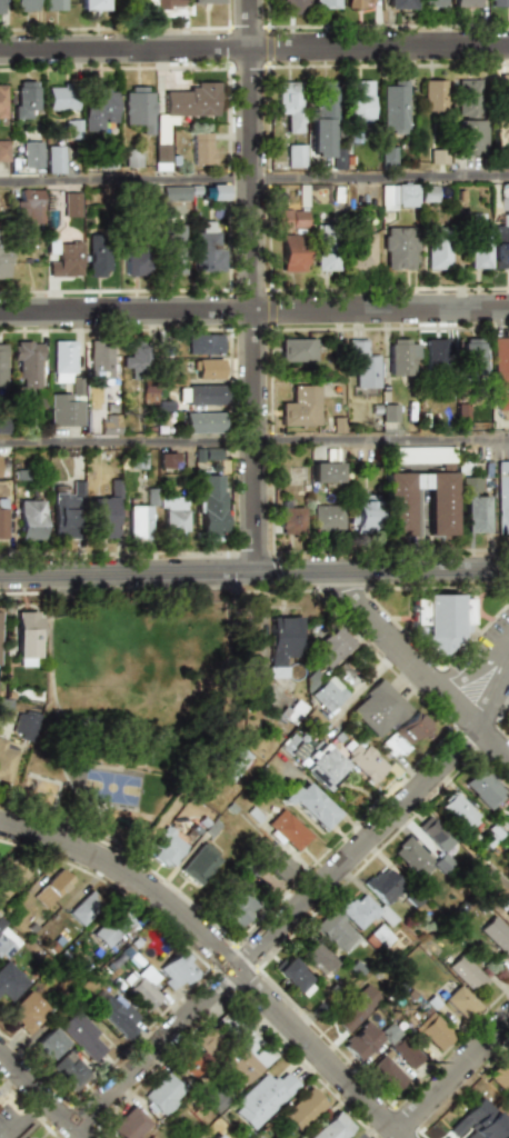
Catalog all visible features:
building: (206, 1)
building: (163, 3)
building: (358, 3)
building: (432, 3)
building: (467, 3)
building: (499, 3)
building: (325, 4)
building: (397, 4)
building: (24, 6)
building: (54, 6)
building: (92, 6)
building: (0, 7)
building: (290, 7)
road: (255, 48)
road: (252, 89)
building: (432, 96)
building: (502, 96)
building: (24, 98)
building: (60, 98)
building: (468, 98)
building: (190, 99)
building: (323, 99)
building: (358, 101)
building: (1, 102)
building: (289, 104)
building: (393, 107)
building: (98, 108)
building: (137, 108)
building: (73, 129)
building: (468, 137)
building: (319, 138)
building: (201, 148)
building: (3, 150)
building: (507, 153)
building: (31, 154)
building: (296, 156)
building: (162, 157)
building: (387, 157)
building: (437, 157)
building: (132, 158)
building: (54, 159)
building: (337, 159)
road: (381, 177)
road: (127, 180)
building: (218, 192)
building: (174, 193)
building: (427, 193)
building: (397, 196)
building: (71, 204)
building: (27, 206)
building: (290, 219)
building: (477, 244)
building: (499, 247)
building: (398, 248)
building: (172, 249)
building: (207, 249)
building: (325, 250)
building: (435, 250)
building: (360, 251)
building: (292, 252)
building: (98, 256)
building: (64, 259)
building: (132, 259)
building: (3, 261)
road: (255, 310)
building: (203, 343)
building: (297, 350)
building: (435, 353)
building: (471, 356)
building: (400, 357)
building: (134, 359)
building: (500, 359)
building: (63, 360)
building: (100, 361)
building: (29, 363)
building: (363, 367)
building: (2, 368)
building: (207, 369)
road: (255, 375)
building: (148, 392)
building: (201, 395)
building: (502, 401)
building: (300, 407)
building: (64, 411)
building: (389, 416)
building: (203, 422)
building: (109, 425)
building: (2, 427)
road: (253, 441)
building: (207, 453)
building: (167, 460)
building: (326, 472)
building: (502, 497)
building: (437, 501)
building: (398, 503)
building: (211, 507)
building: (472, 507)
building: (64, 516)
building: (172, 516)
building: (363, 516)
building: (328, 517)
building: (102, 518)
building: (2, 519)
building: (291, 519)
building: (30, 520)
building: (138, 521)
road: (419, 531)
road: (253, 571)
building: (442, 619)
building: (24, 637)
building: (283, 643)
building: (331, 647)
road: (420, 667)
road: (479, 670)
building: (328, 695)
building: (4, 707)
park: (139, 708)
building: (379, 708)
building: (295, 712)
building: (26, 725)
building: (406, 735)
building: (7, 760)
building: (316, 761)
building: (366, 761)
building: (230, 762)
building: (482, 789)
building: (310, 805)
building: (459, 812)
building: (289, 829)
building: (435, 833)
building: (168, 848)
building: (411, 857)
building: (277, 861)
building: (199, 864)
building: (11, 876)
building: (491, 879)
building: (383, 885)
building: (51, 888)
building: (236, 904)
road: (303, 906)
building: (86, 907)
building: (363, 911)
building: (112, 927)
building: (336, 930)
building: (497, 935)
building: (380, 937)
building: (6, 942)
road: (221, 952)
building: (316, 956)
building: (177, 970)
building: (468, 974)
building: (295, 977)
building: (10, 980)
building: (144, 988)
building: (462, 1002)
building: (358, 1008)
building: (28, 1011)
building: (118, 1016)
building: (435, 1031)
building: (82, 1035)
building: (209, 1040)
building: (362, 1041)
building: (49, 1044)
building: (244, 1052)
building: (406, 1054)
building: (191, 1064)
building: (69, 1070)
building: (387, 1075)
building: (500, 1076)
road: (453, 1077)
road: (42, 1095)
building: (163, 1095)
building: (263, 1099)
building: (302, 1109)
building: (477, 1122)
building: (129, 1125)
building: (333, 1127)
building: (217, 1136)
building: (507, 1136)
building: (0, 1137)
building: (150, 1137)

